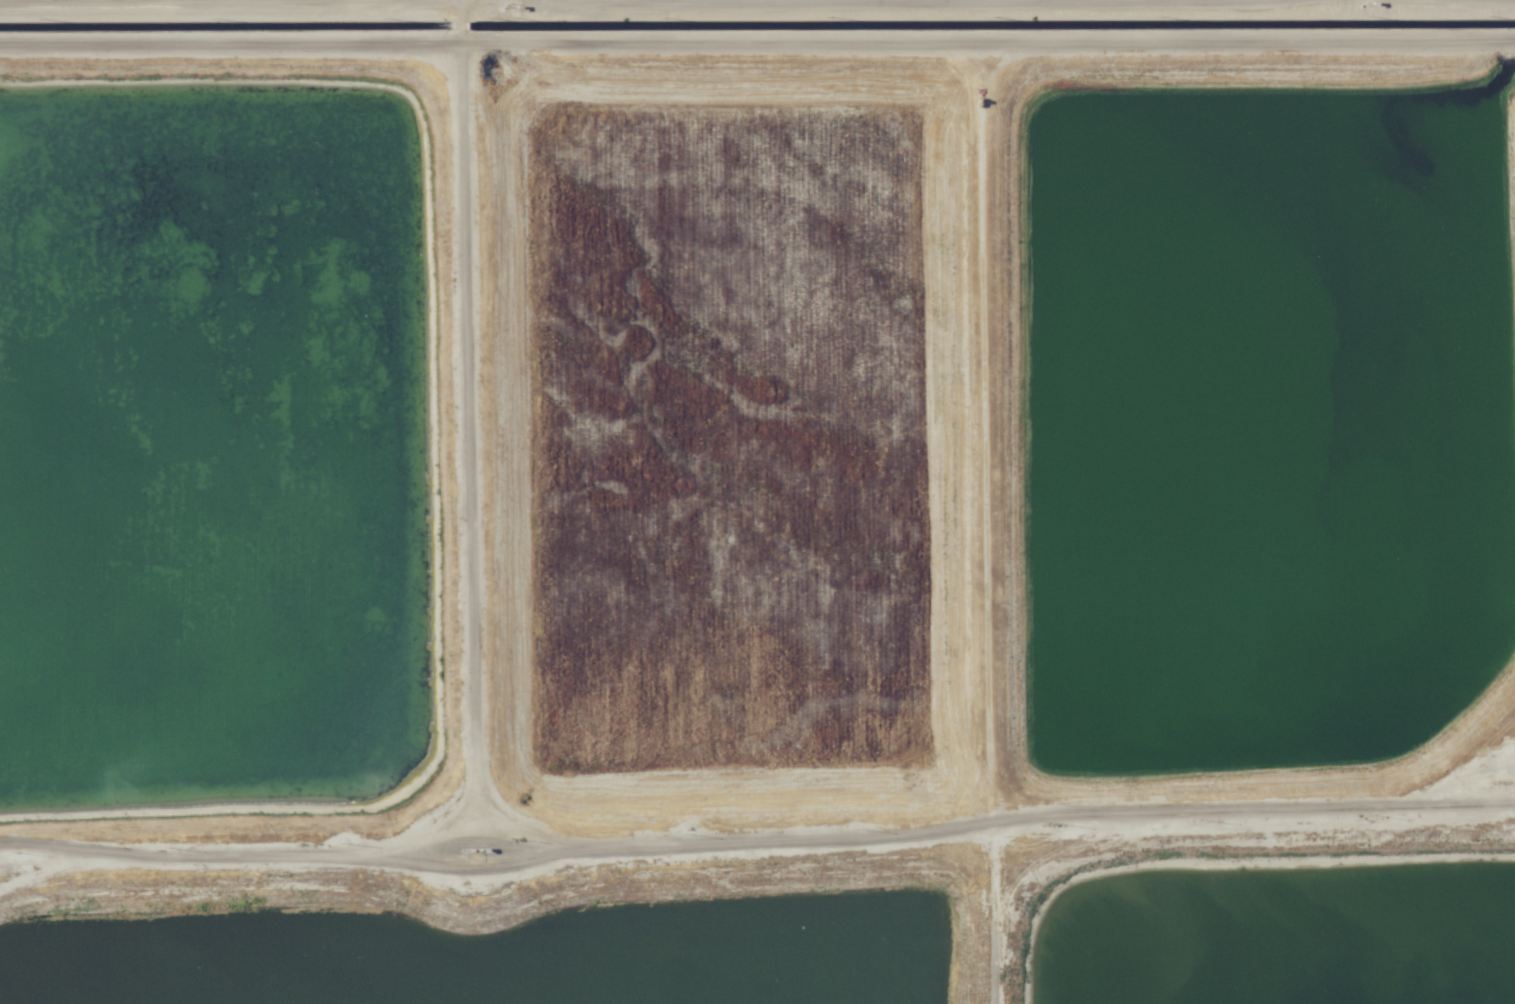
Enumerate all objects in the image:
road: (653, 1)
road: (162, 3)
road: (296, 41)
road: (1248, 42)
road: (983, 330)
wastewater plant: (1264, 414)
road: (468, 418)
wastewater plant: (724, 431)
wastewater plant: (216, 445)
wastewater plant: (757, 502)
road: (757, 838)
wastewater plant: (1280, 925)
wastewater plant: (495, 946)

